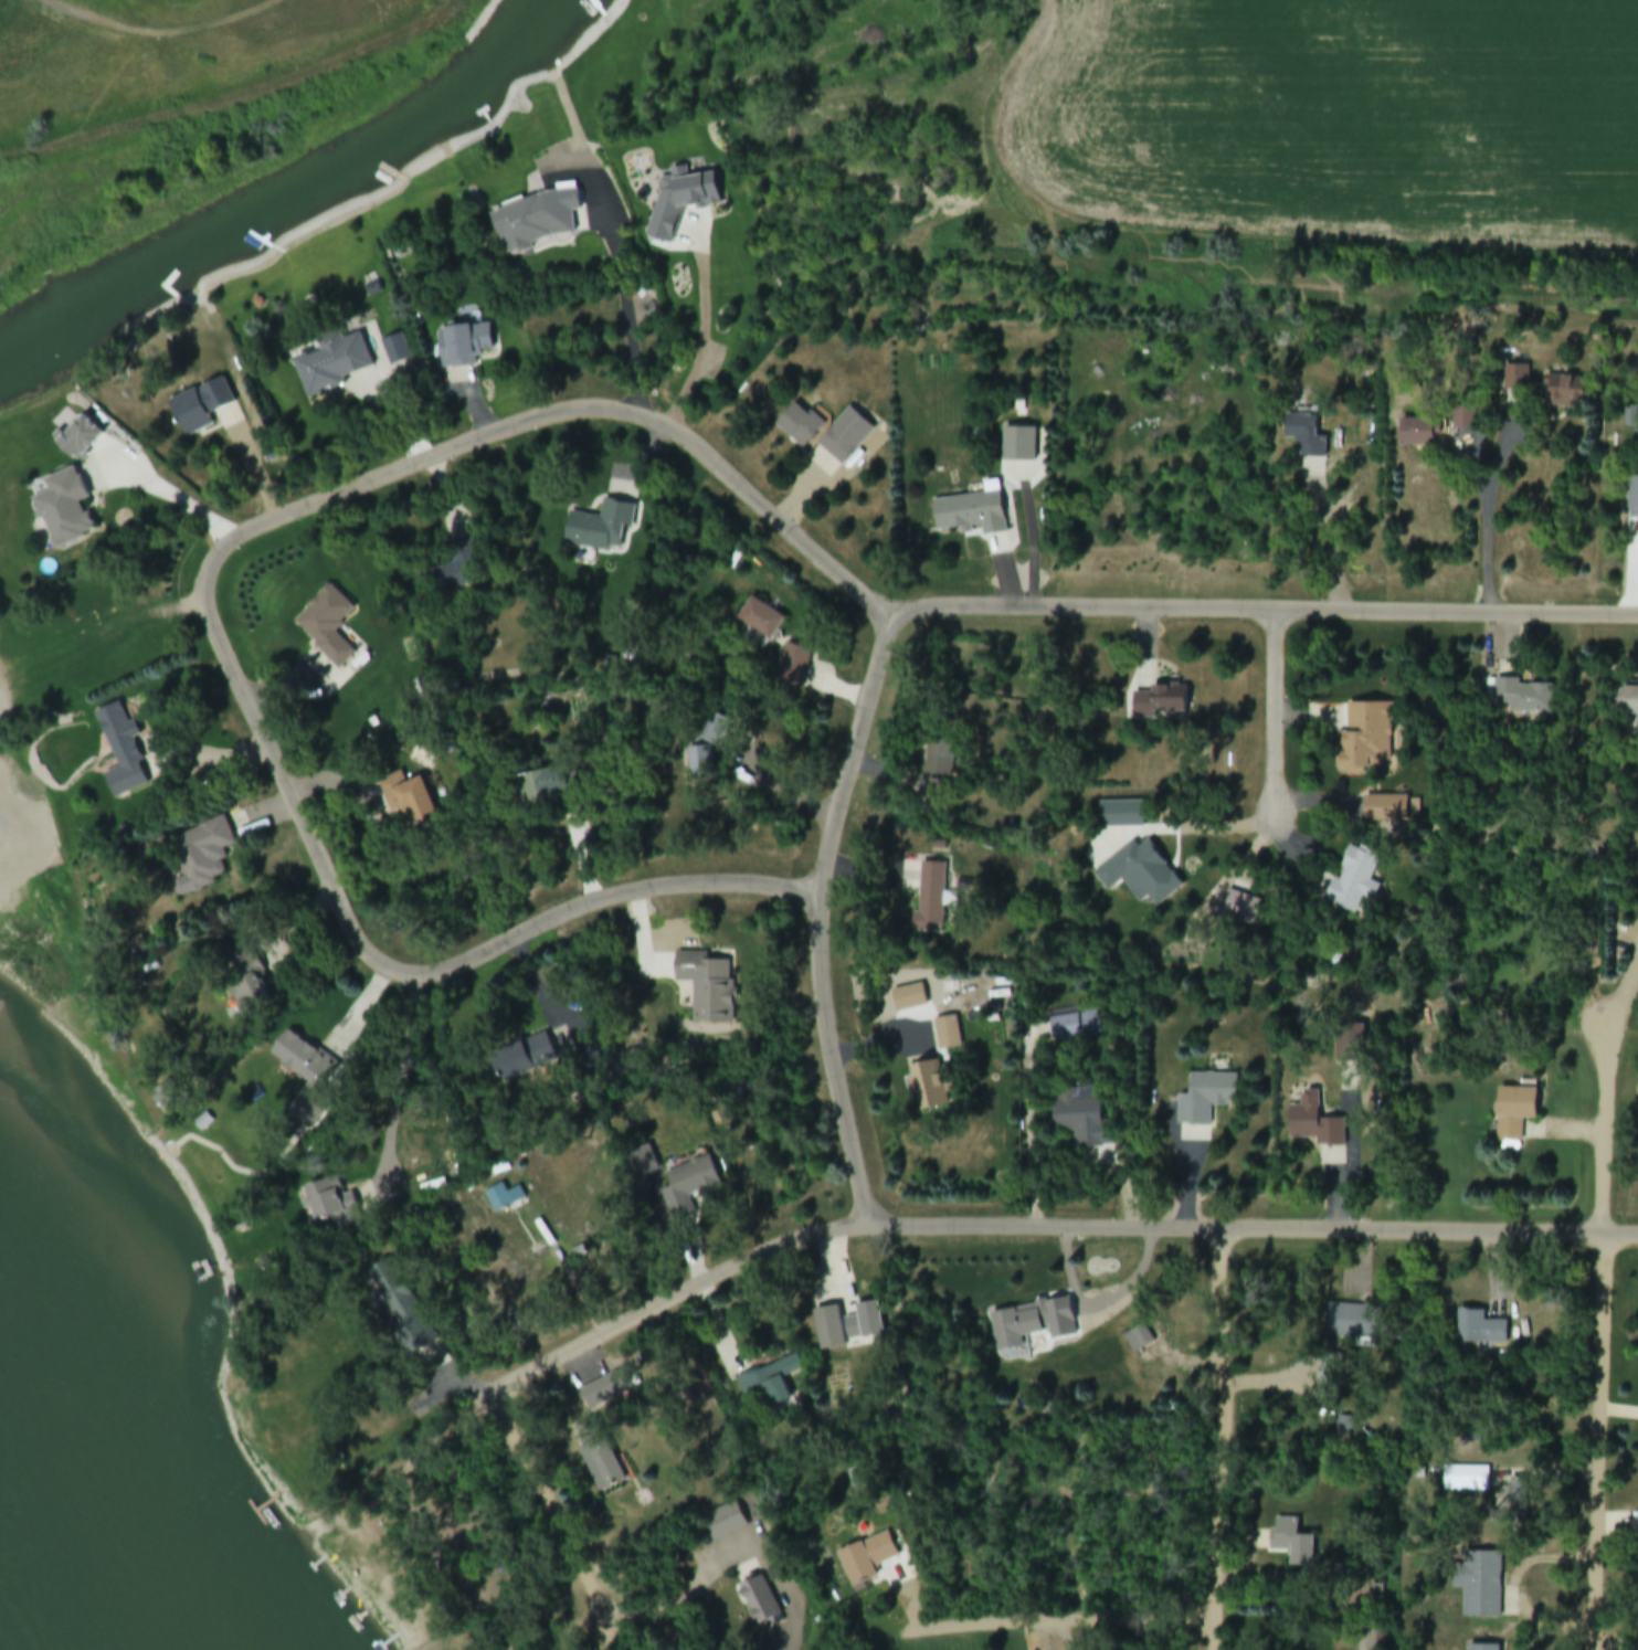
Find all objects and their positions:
park: (152, 110)
building: (685, 203)
building: (536, 221)
road: (1248, 221)
building: (919, 326)
building: (464, 346)
building: (395, 351)
building: (331, 363)
building: (1565, 393)
building: (199, 408)
building: (1462, 419)
building: (800, 427)
building: (1417, 433)
road: (495, 434)
building: (1304, 436)
building: (845, 437)
building: (78, 440)
building: (1018, 446)
building: (1632, 500)
building: (63, 510)
building: (971, 514)
building: (601, 528)
building: (456, 573)
building: (760, 620)
building: (326, 625)
building: (792, 667)
building: (1521, 698)
building: (1626, 701)
building: (1160, 702)
road: (1278, 711)
building: (718, 734)
building: (1367, 739)
building: (123, 753)
building: (700, 763)
building: (938, 774)
building: (541, 787)
building: (408, 800)
building: (1378, 812)
building: (1120, 815)
building: (201, 857)
building: (1139, 876)
building: (1354, 881)
building: (927, 897)
building: (1240, 909)
road: (821, 916)
building: (245, 985)
building: (706, 987)
building: (1075, 1028)
building: (1344, 1051)
building: (517, 1061)
building: (309, 1080)
building: (933, 1086)
building: (168, 1097)
building: (1205, 1100)
building: (1513, 1114)
building: (1081, 1121)
building: (1313, 1124)
building: (689, 1189)
building: (503, 1199)
building: (330, 1204)
road: (1056, 1229)
building: (400, 1312)
building: (1353, 1323)
building: (1028, 1324)
building: (828, 1330)
building: (1479, 1331)
building: (1139, 1341)
road: (1605, 1351)
building: (1329, 1378)
building: (762, 1389)
building: (604, 1393)
road: (1222, 1440)
building: (596, 1457)
building: (1466, 1480)
road: (553, 1514)
building: (723, 1523)
building: (1292, 1544)
building: (866, 1561)
building: (1479, 1586)
building: (764, 1600)
road: (1052, 1626)
building: (1483, 1649)

